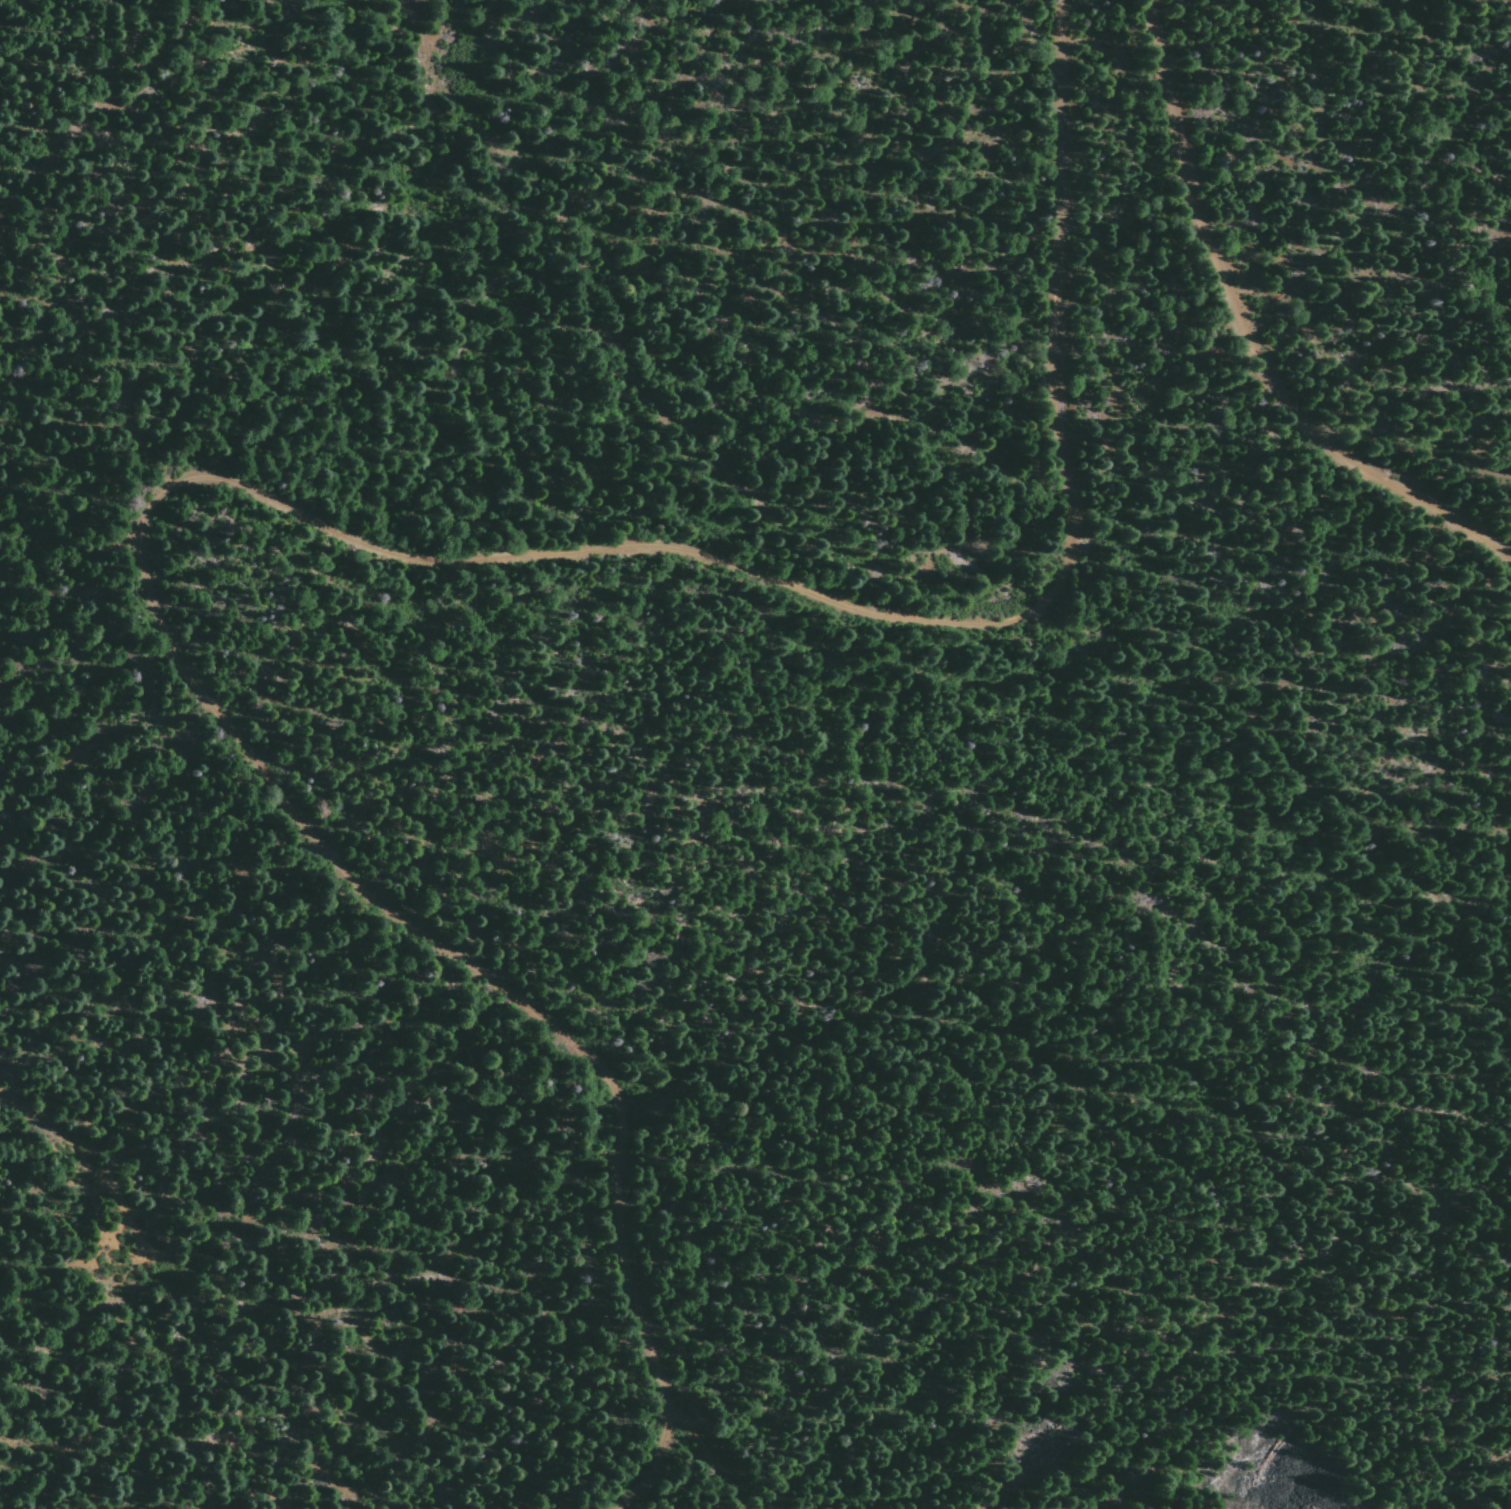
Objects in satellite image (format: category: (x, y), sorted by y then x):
road: (1249, 333)
road: (295, 514)
road: (128, 1272)

